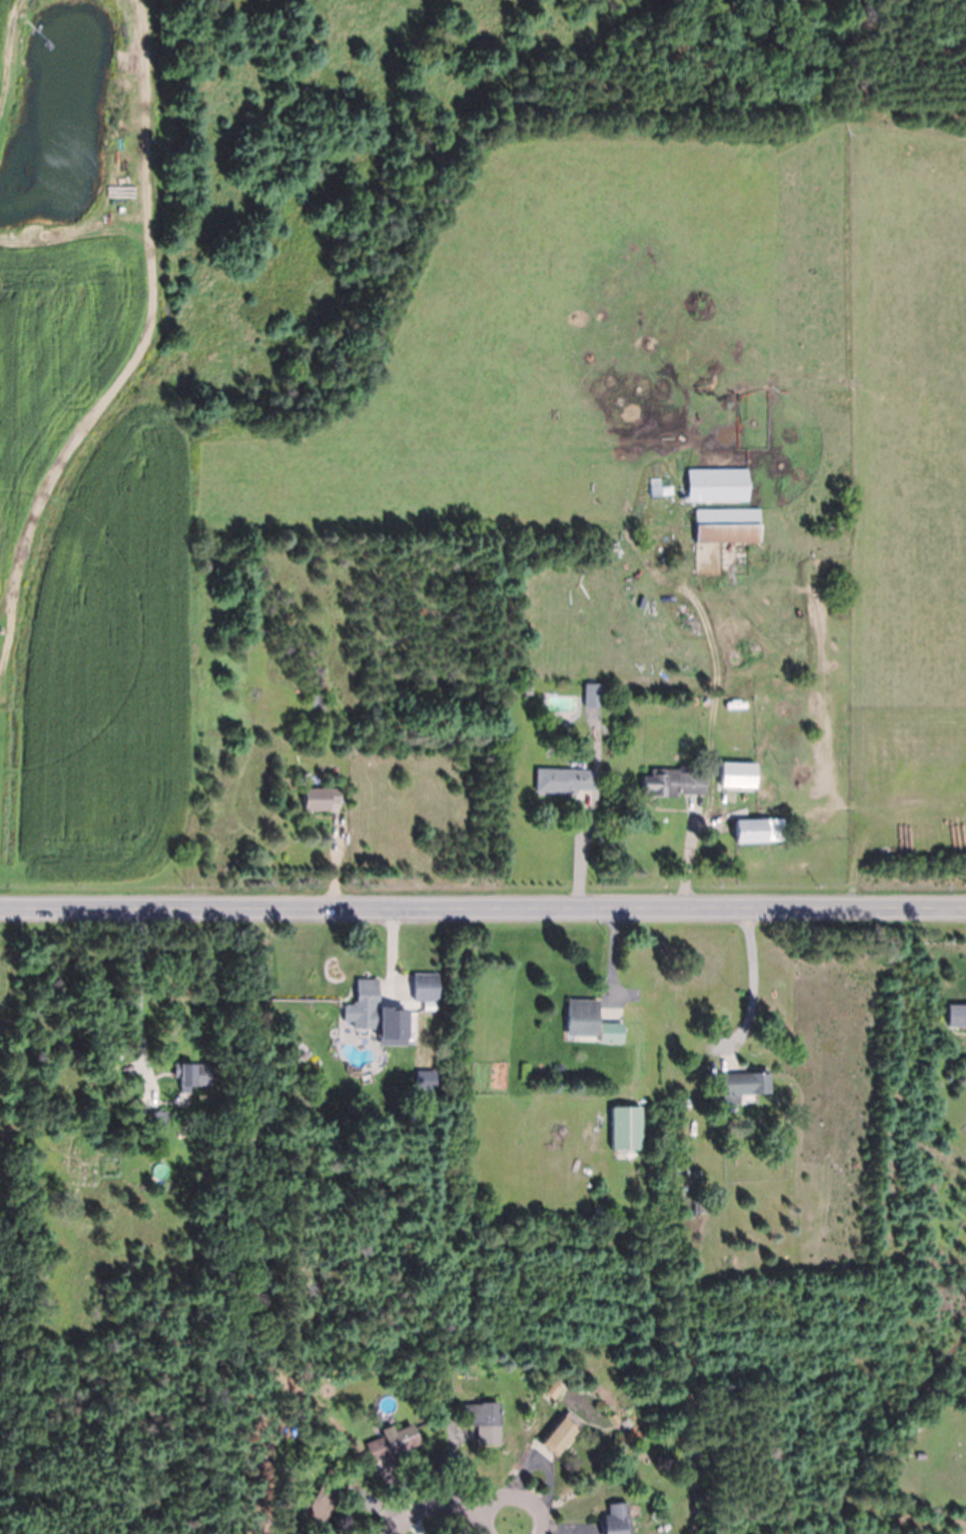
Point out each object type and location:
crop: (5, 26)
crop: (483, 437)
building: (716, 484)
building: (660, 490)
building: (726, 524)
building: (526, 688)
building: (592, 694)
building: (317, 705)
building: (376, 710)
building: (735, 775)
building: (748, 775)
building: (563, 779)
building: (672, 781)
building: (320, 796)
building: (750, 830)
road: (483, 908)
building: (426, 987)
building: (371, 1010)
building: (955, 1014)
building: (581, 1019)
building: (610, 1032)
building: (186, 1075)
building: (742, 1084)
building: (147, 1114)
building: (628, 1125)
building: (163, 1151)
building: (687, 1156)
building: (694, 1211)
building: (434, 1350)
building: (552, 1387)
building: (615, 1418)
building: (483, 1420)
building: (558, 1434)
building: (387, 1444)
road: (526, 1496)
building: (323, 1497)
road: (430, 1506)
building: (616, 1519)
road: (484, 1520)

